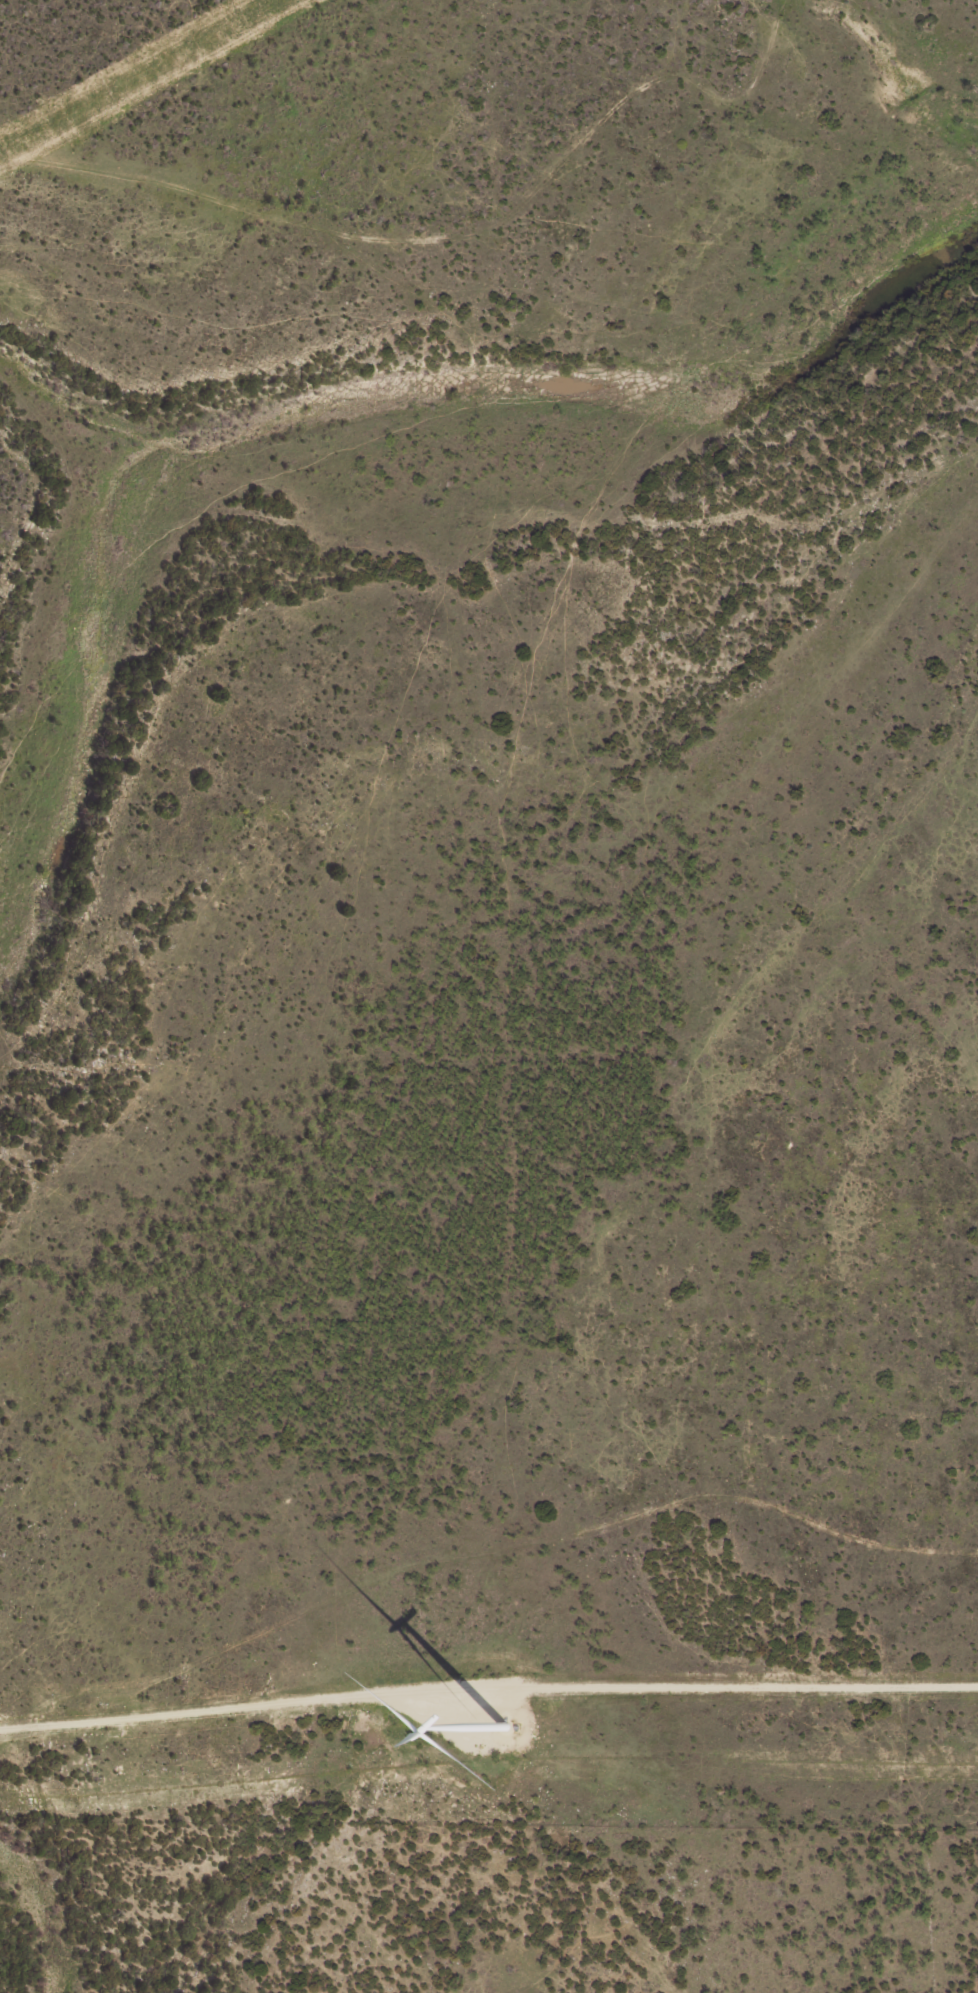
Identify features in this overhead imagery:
wind turbine: (490, 1727)

